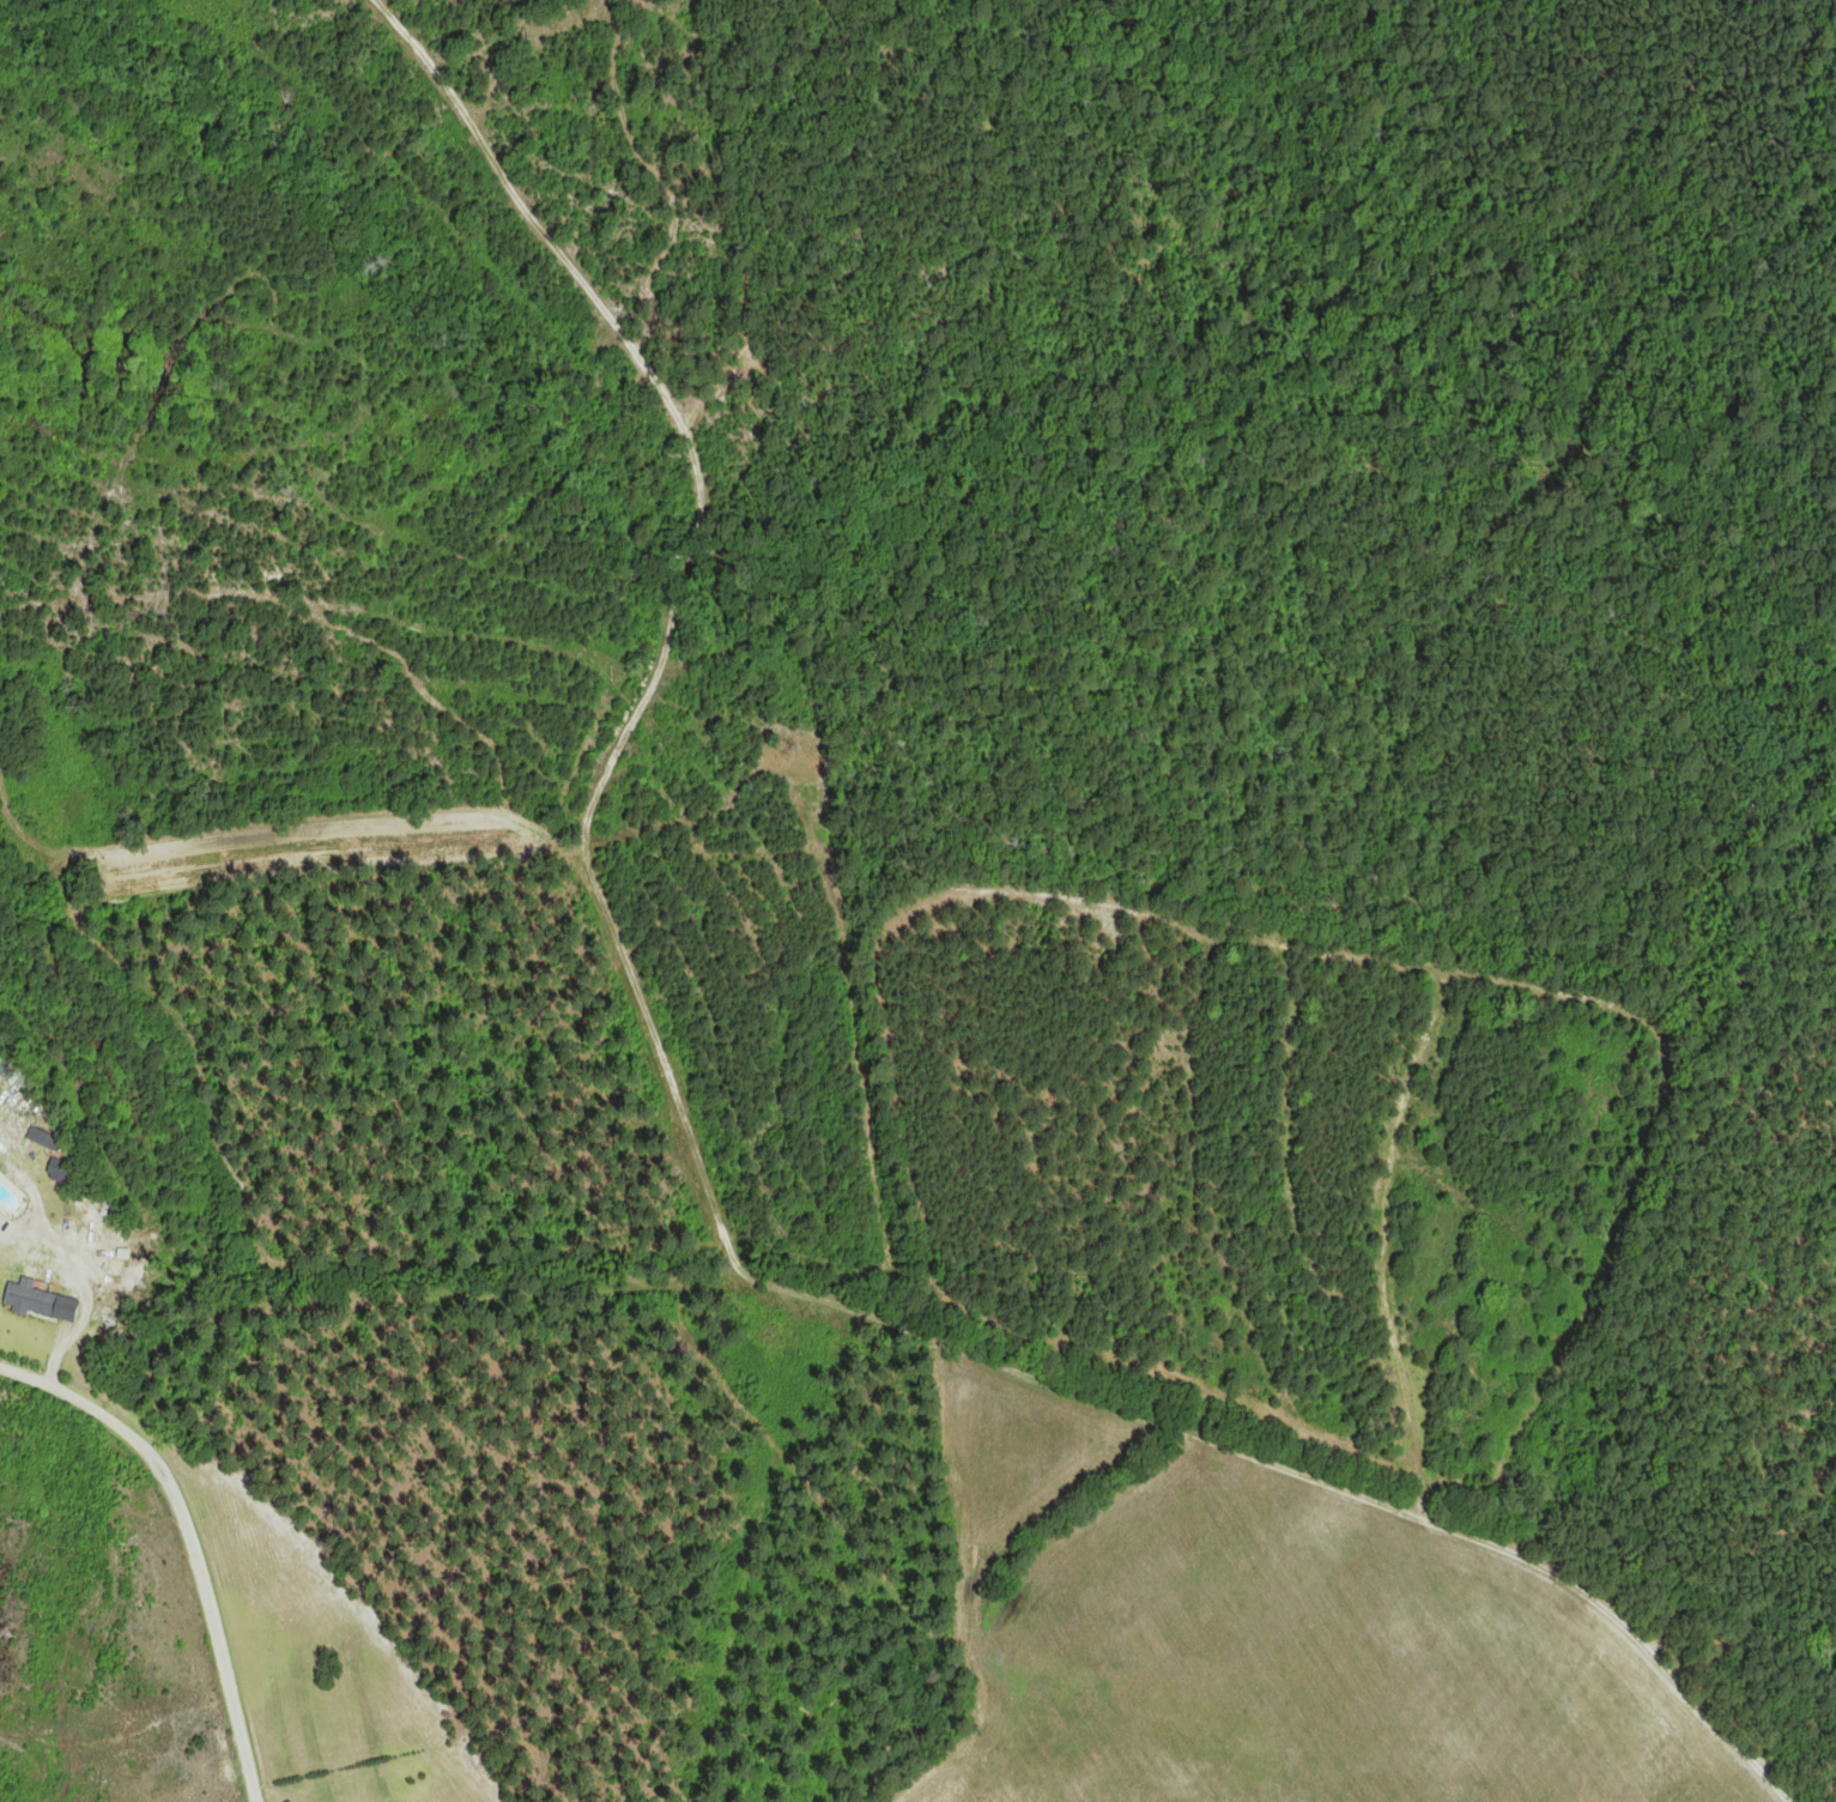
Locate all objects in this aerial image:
road: (1825, 261)
park: (1352, 724)
building: (31, 1301)
road: (1110, 1405)
building: (134, 1413)
road: (188, 1541)

